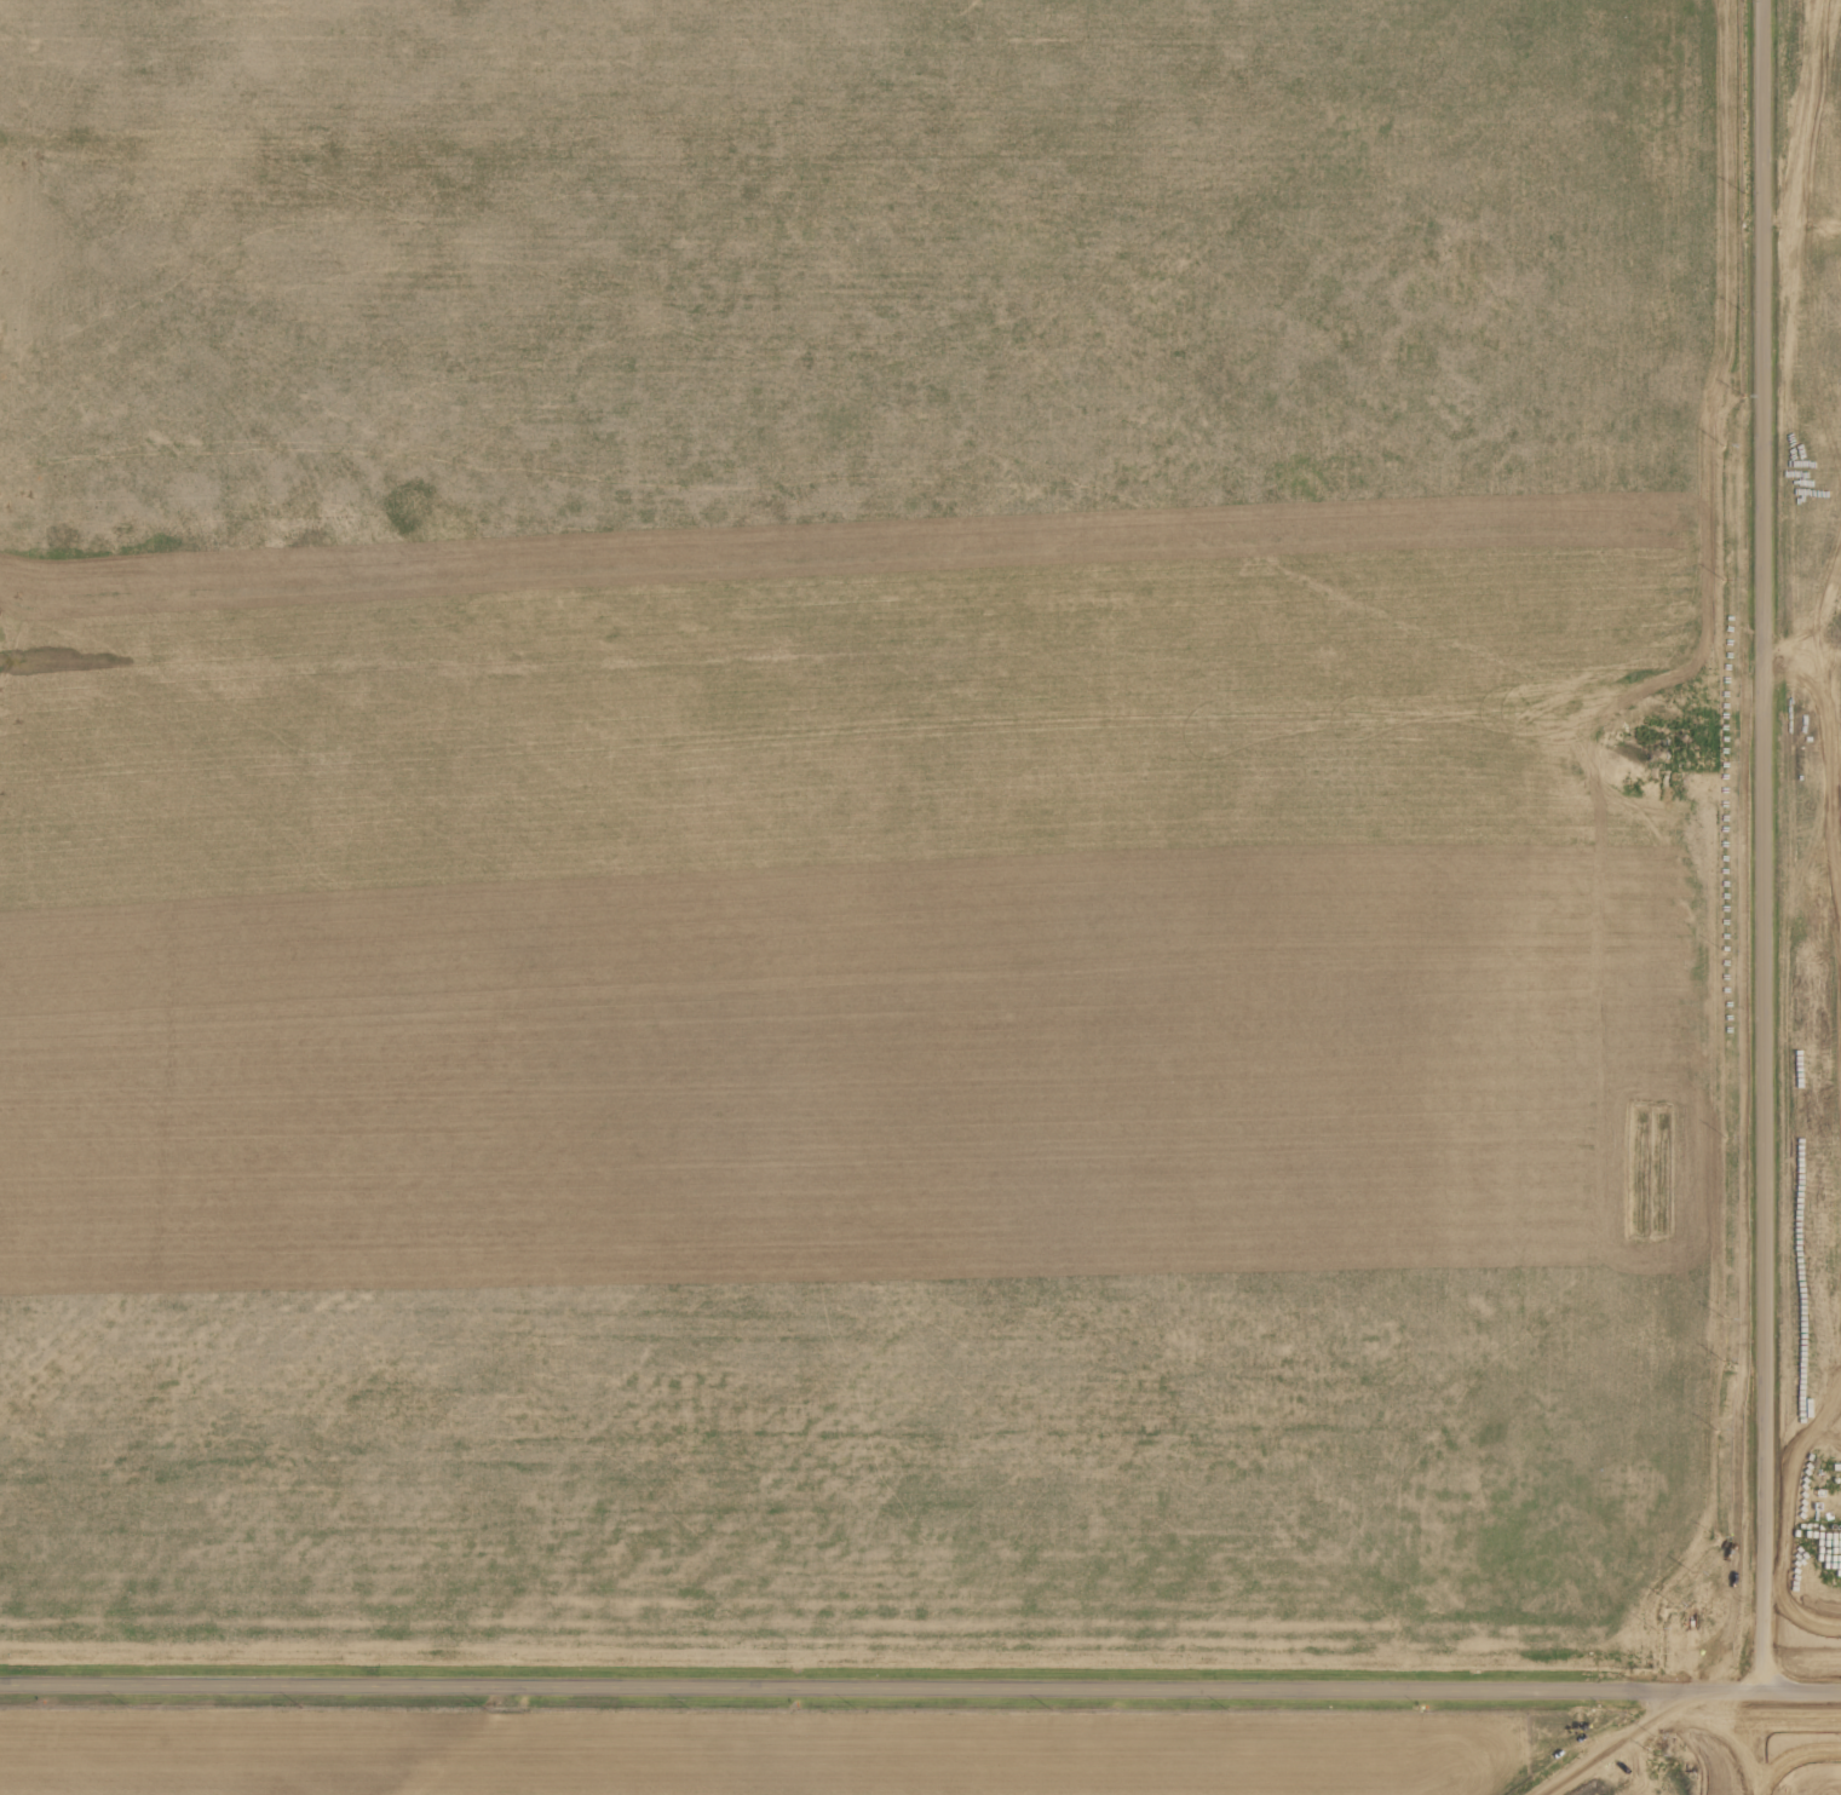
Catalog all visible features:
road: (1766, 844)
road: (920, 1687)
road: (1619, 1742)
road: (1759, 1742)

